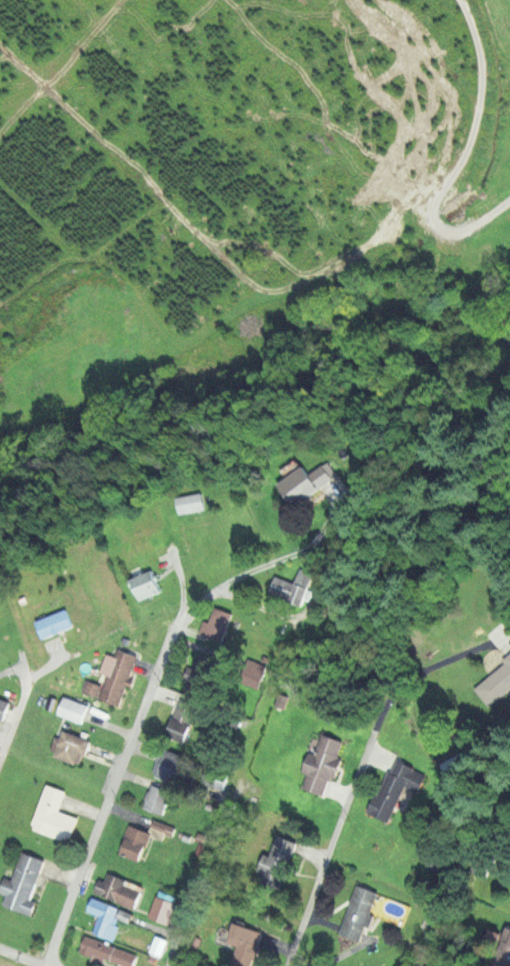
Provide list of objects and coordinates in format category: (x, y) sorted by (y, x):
road: (458, 231)
building: (309, 484)
building: (190, 502)
building: (145, 583)
building: (292, 586)
building: (54, 623)
building: (218, 624)
building: (193, 673)
building: (114, 675)
building: (497, 684)
road: (146, 698)
building: (3, 706)
building: (73, 708)
road: (17, 709)
building: (185, 715)
building: (71, 746)
building: (323, 764)
building: (458, 764)
building: (178, 768)
building: (397, 788)
building: (158, 798)
building: (54, 815)
road: (341, 821)
building: (164, 829)
building: (135, 841)
building: (278, 863)
road: (202, 866)
building: (24, 882)
building: (119, 890)
building: (162, 909)
building: (362, 910)
building: (126, 914)
building: (104, 916)
building: (509, 940)
building: (158, 945)
building: (246, 945)
building: (107, 950)
road: (22, 957)
building: (507, 959)

